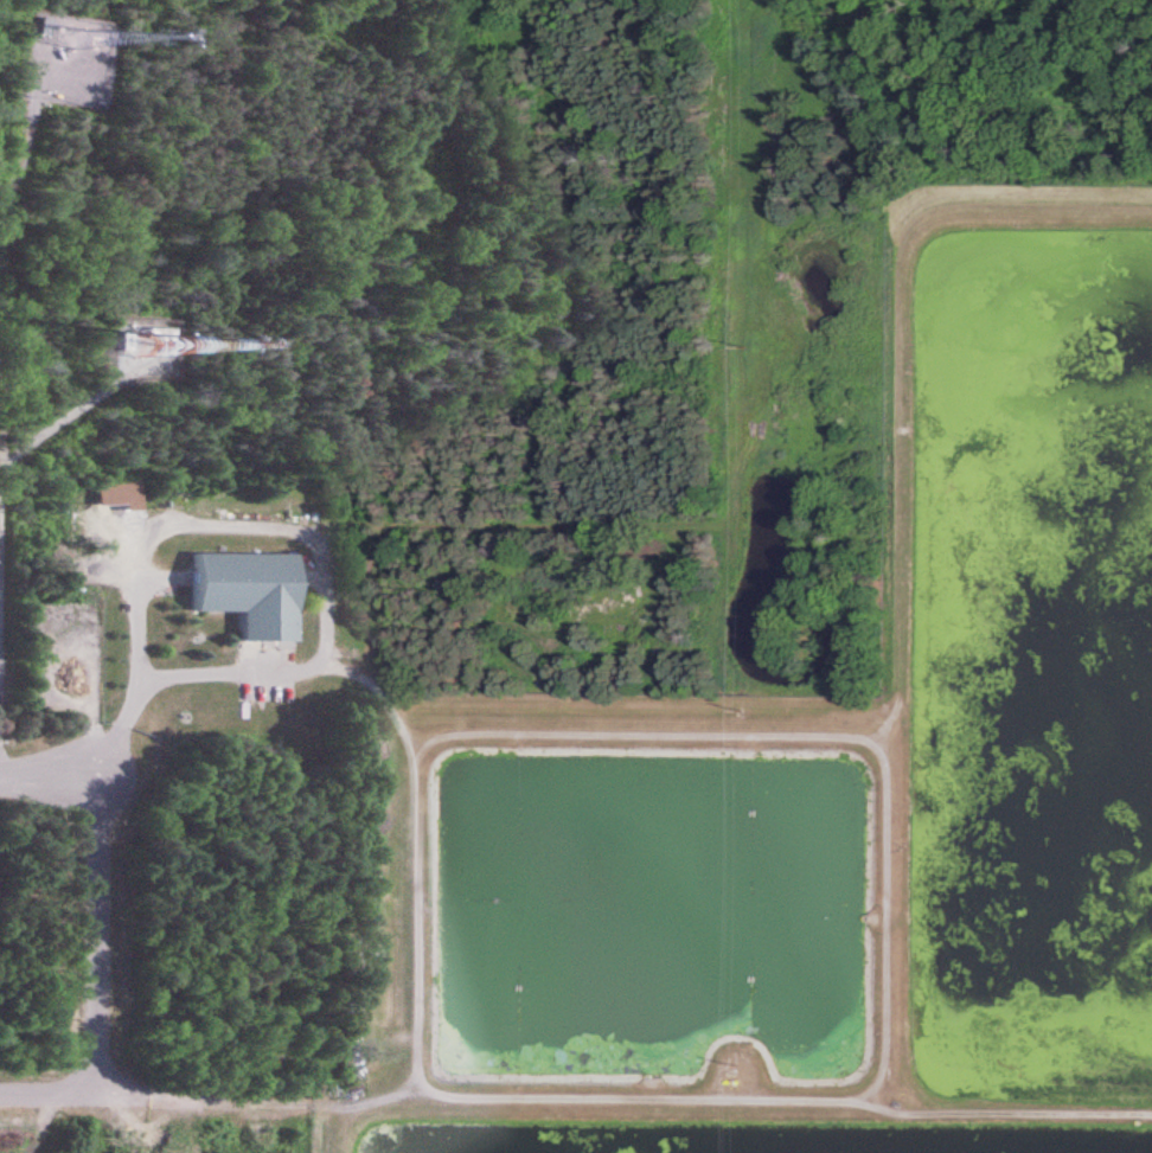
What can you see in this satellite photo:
building: (121, 494)
road: (900, 542)
building: (250, 591)
wastewater plant: (825, 735)
road: (132, 769)
road: (576, 1104)
road: (340, 1129)

